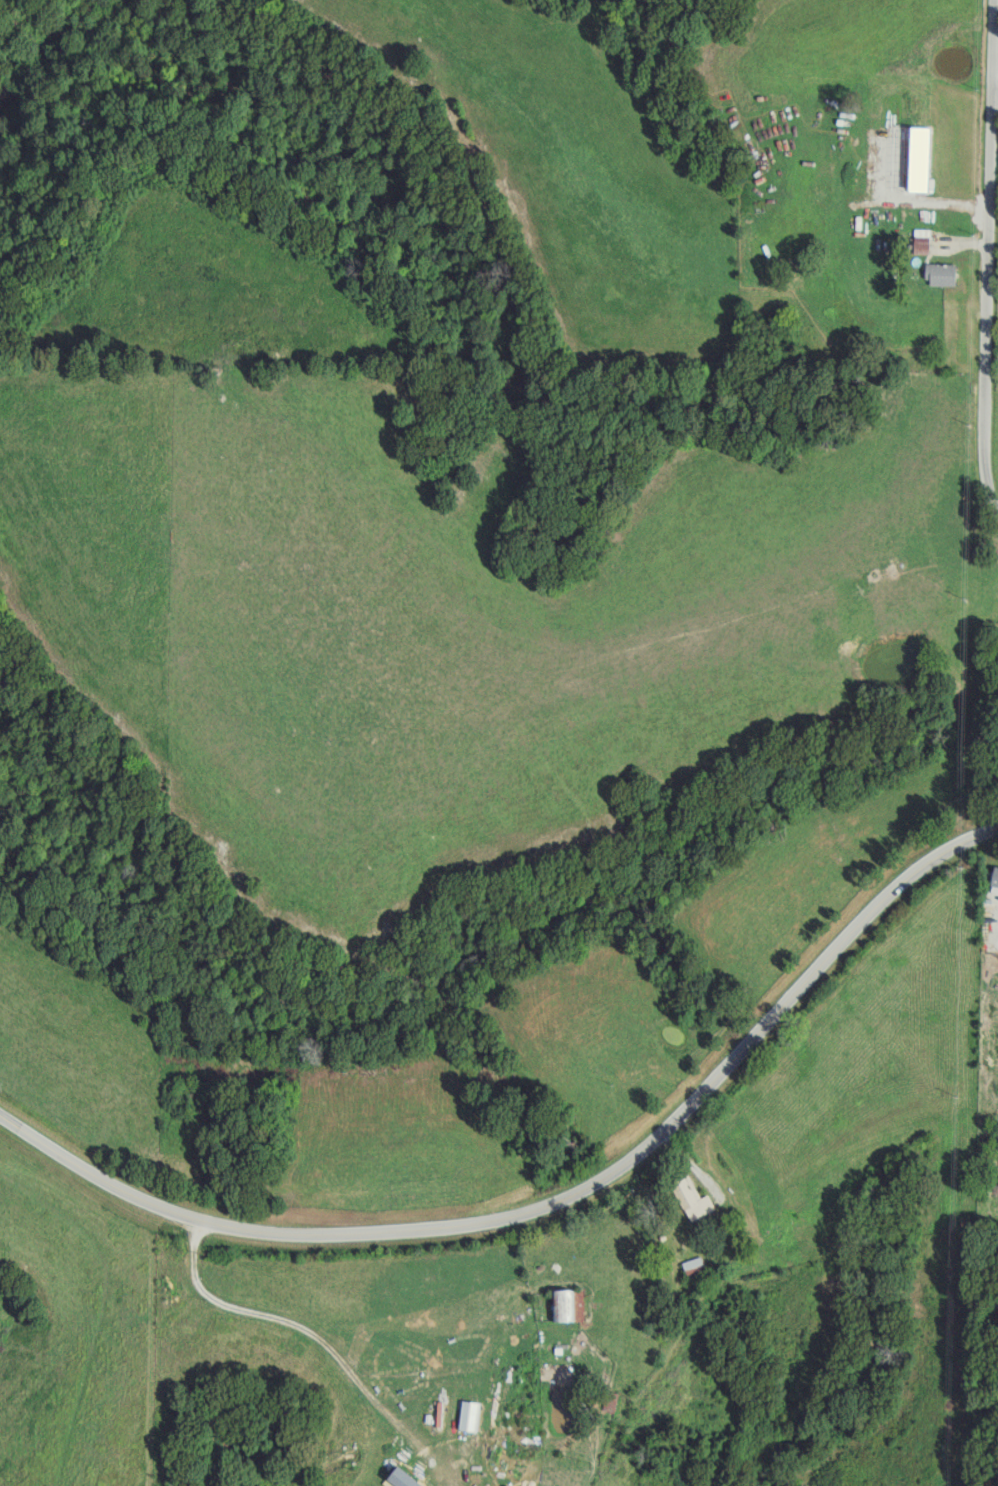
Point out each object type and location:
road: (994, 83)
building: (924, 241)
road: (959, 245)
road: (985, 258)
building: (944, 274)
road: (689, 1156)
road: (556, 1198)
building: (698, 1201)
road: (527, 1245)
building: (695, 1266)
building: (567, 1307)
road: (311, 1331)
building: (470, 1416)

